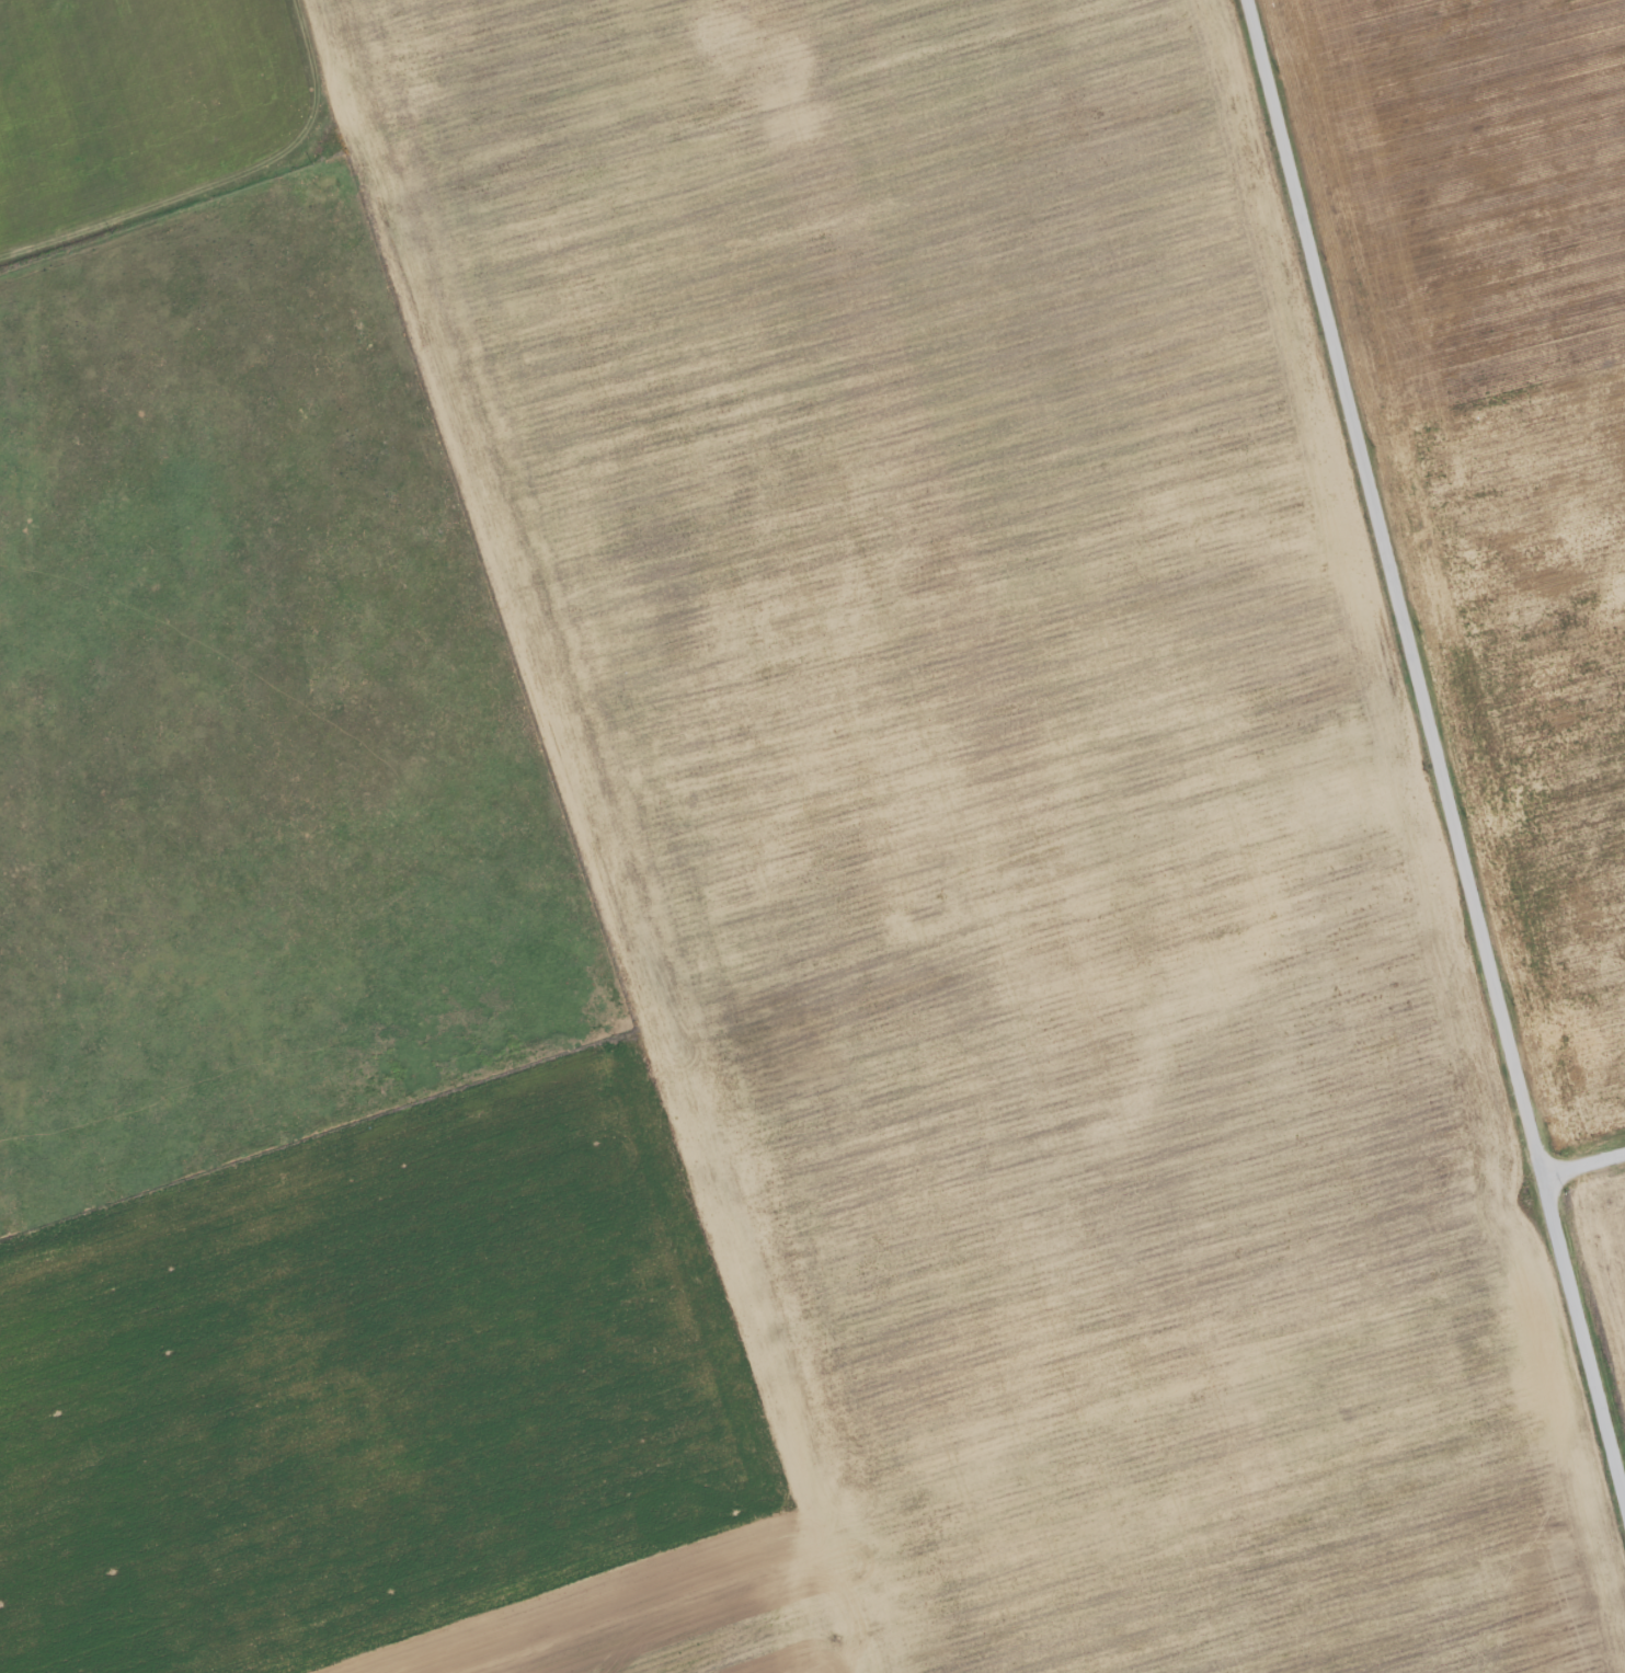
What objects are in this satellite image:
road: (225, 177)
road: (1434, 754)
road: (1583, 1166)

